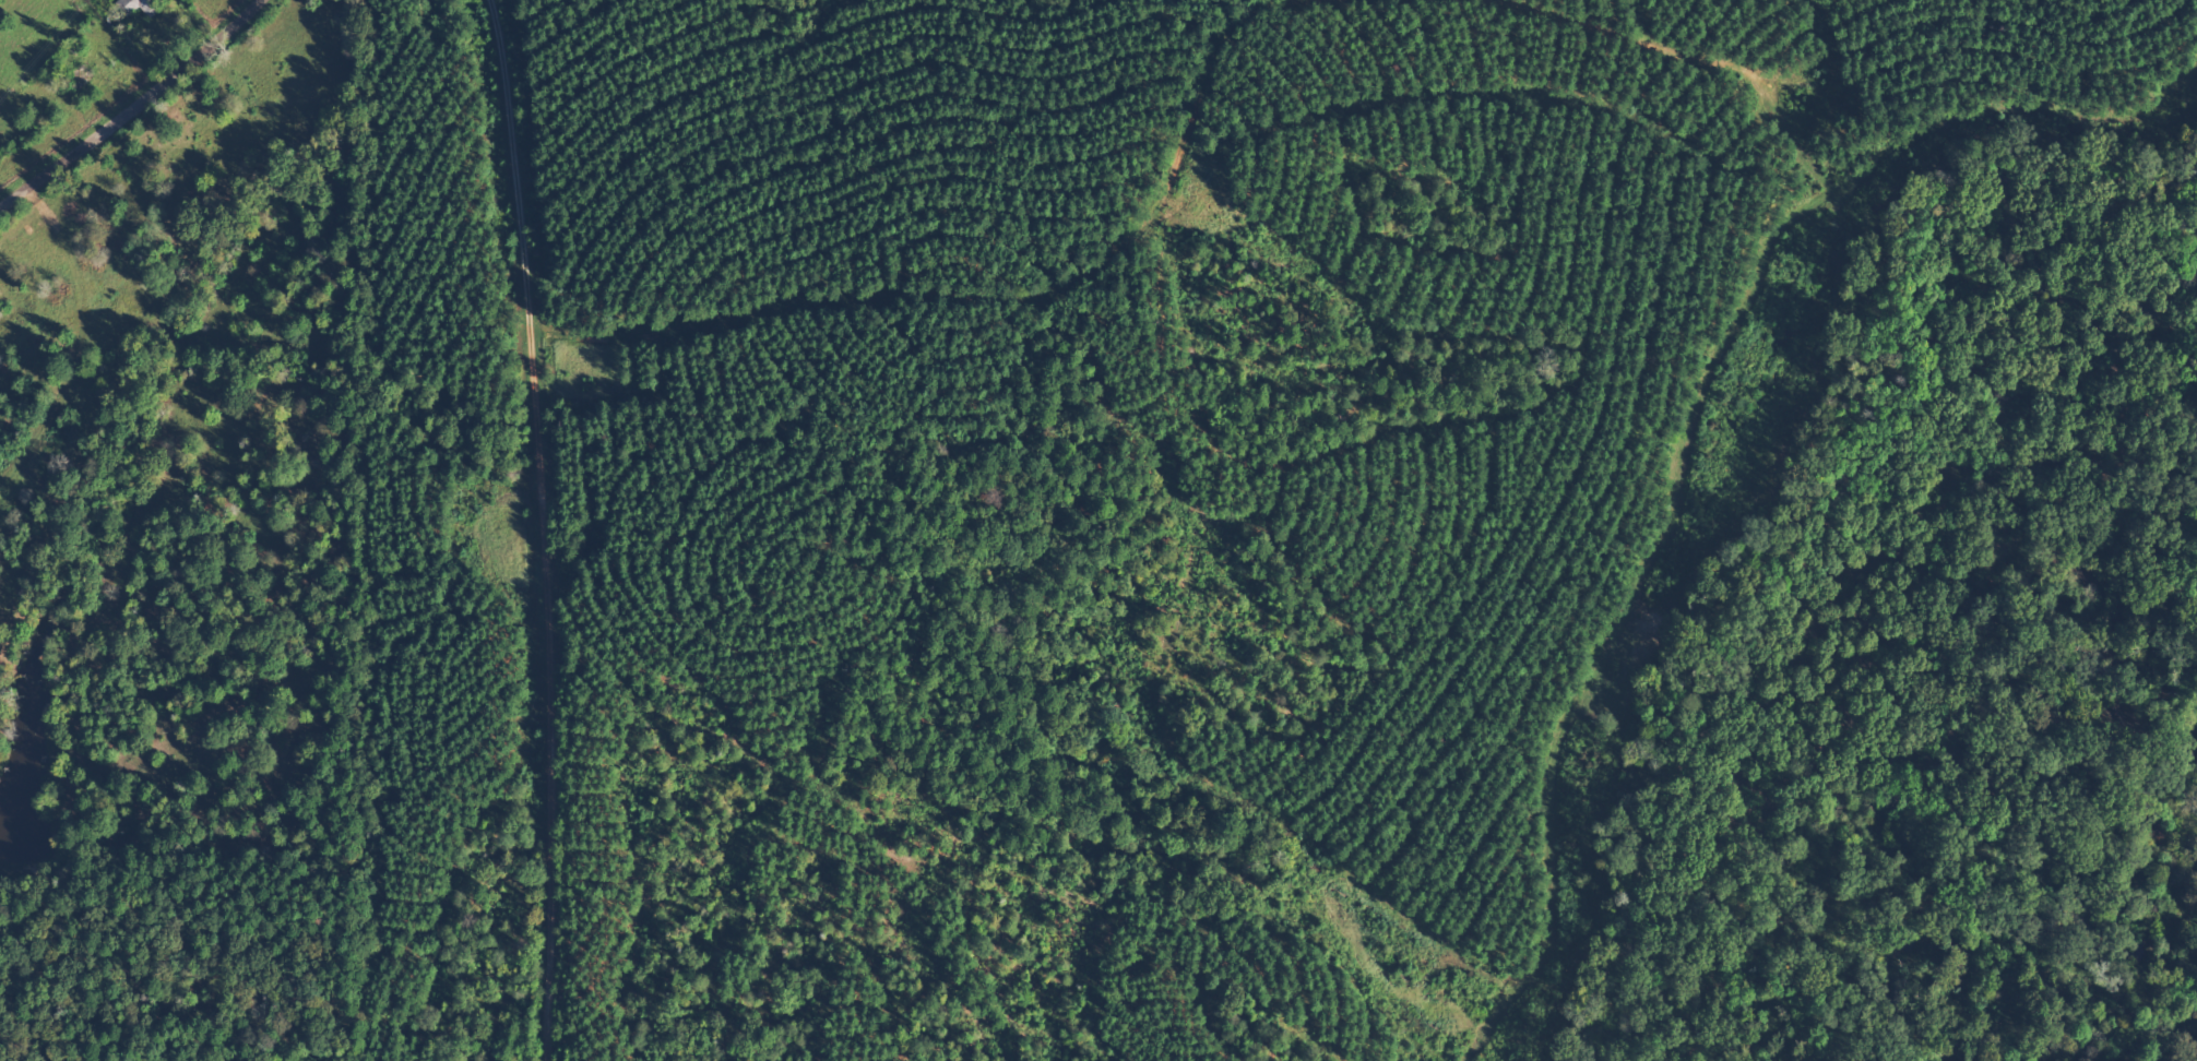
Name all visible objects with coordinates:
building: (143, 5)
road: (117, 85)

